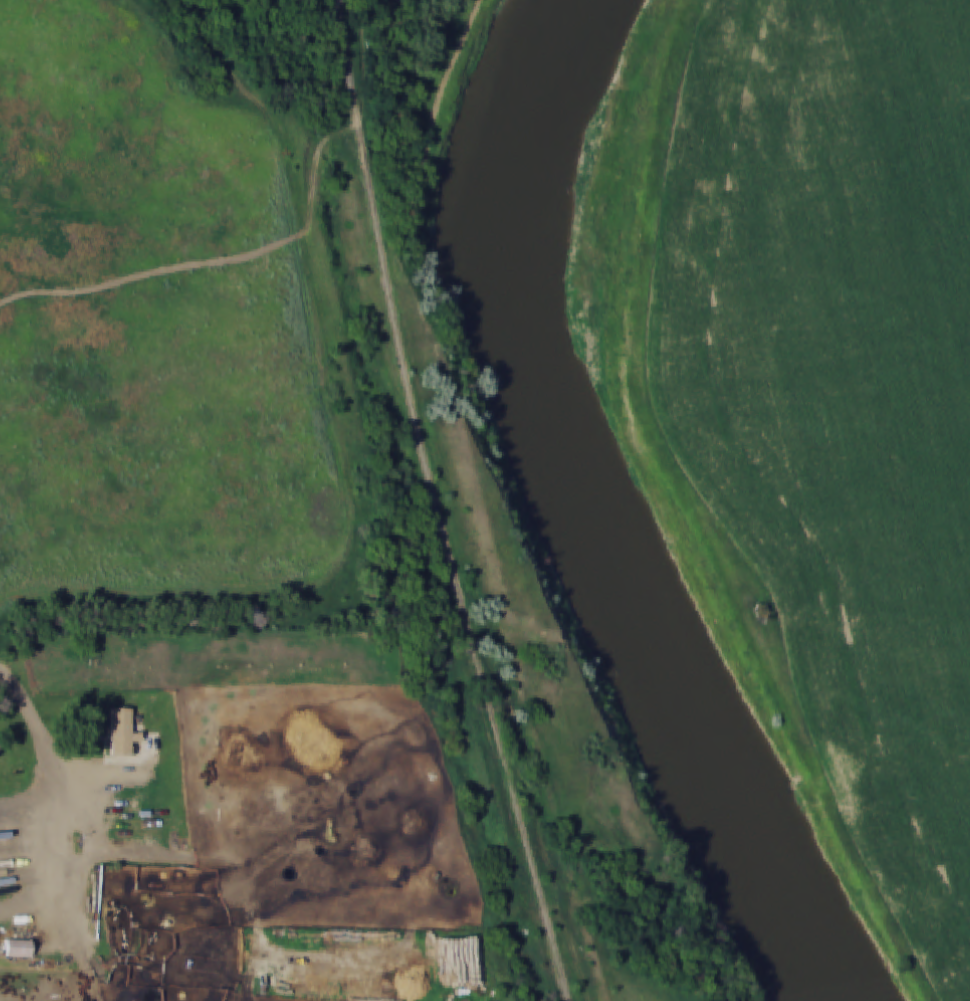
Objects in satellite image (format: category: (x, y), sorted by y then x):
river: (595, 497)
railway: (439, 503)
road: (696, 516)
building: (121, 731)
road: (51, 774)
building: (18, 948)

